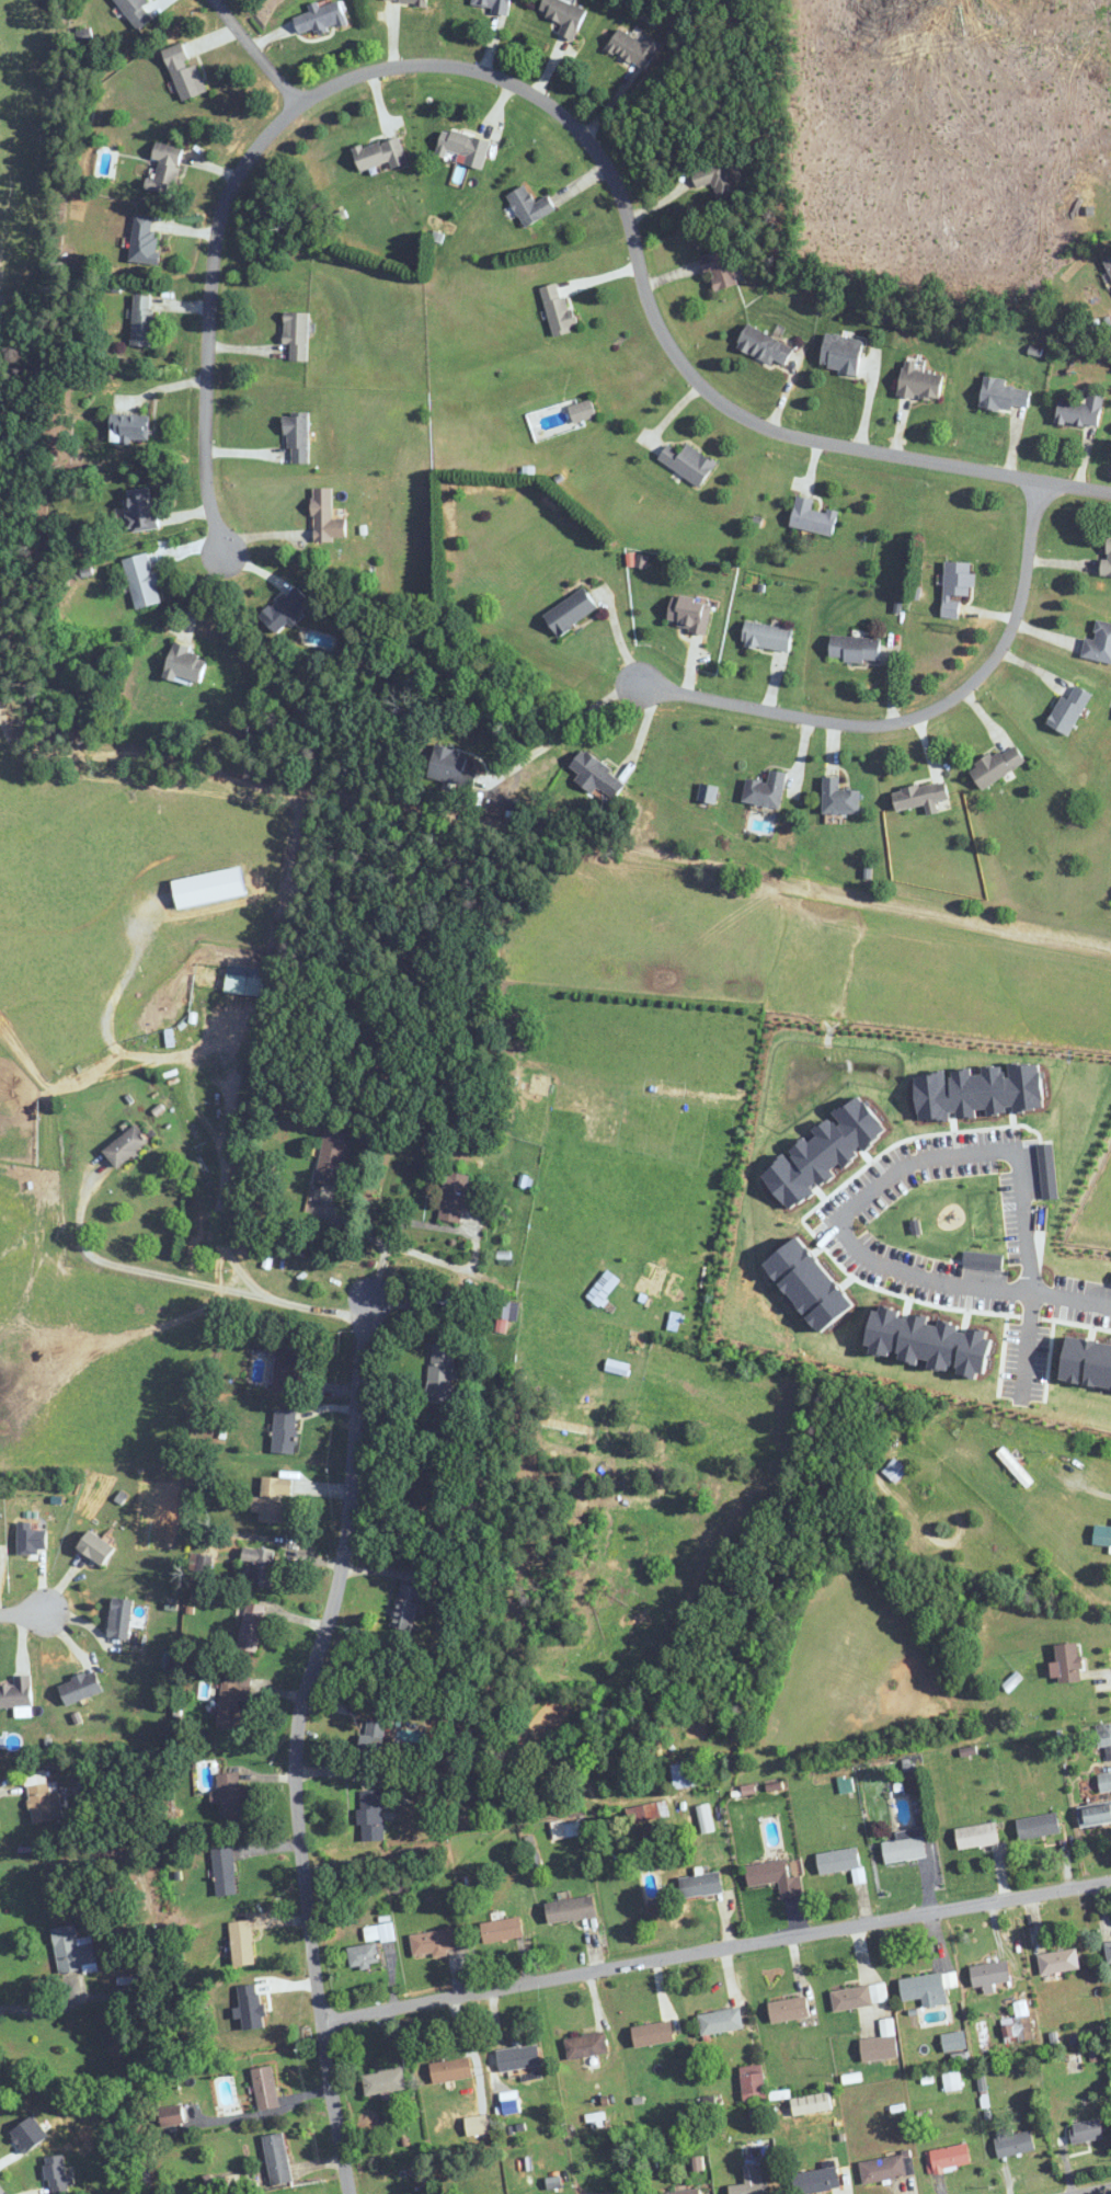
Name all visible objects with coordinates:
building: (405, 1)
building: (492, 4)
building: (137, 12)
building: (564, 15)
building: (320, 18)
building: (634, 48)
road: (256, 53)
building: (184, 72)
road: (551, 107)
building: (462, 147)
building: (381, 153)
building: (165, 167)
building: (715, 179)
building: (530, 205)
building: (144, 241)
building: (1109, 263)
building: (719, 271)
building: (558, 309)
building: (144, 320)
building: (297, 334)
building: (765, 346)
building: (841, 353)
building: (920, 382)
building: (1004, 393)
building: (583, 411)
building: (1080, 411)
building: (130, 426)
building: (297, 437)
building: (688, 462)
building: (140, 511)
building: (325, 517)
building: (812, 517)
building: (1107, 558)
building: (142, 581)
building: (955, 586)
building: (285, 609)
building: (571, 612)
building: (690, 613)
building: (767, 636)
building: (1099, 643)
building: (855, 649)
building: (185, 664)
building: (1069, 708)
road: (916, 716)
road: (569, 724)
building: (998, 766)
building: (451, 767)
building: (596, 775)
building: (766, 790)
building: (708, 793)
building: (921, 797)
building: (839, 798)
building: (243, 985)
building: (126, 1146)
building: (332, 1157)
road: (884, 1177)
road: (221, 1185)
building: (454, 1197)
road: (394, 1227)
building: (985, 1259)
road: (190, 1280)
building: (817, 1283)
road: (1070, 1298)
building: (930, 1339)
road: (1026, 1346)
building: (1090, 1360)
building: (286, 1361)
building: (617, 1367)
building: (440, 1372)
building: (284, 1431)
building: (1015, 1466)
building: (894, 1470)
road: (1095, 1484)
building: (273, 1498)
building: (1102, 1535)
building: (95, 1546)
building: (261, 1565)
building: (405, 1607)
road: (23, 1612)
building: (119, 1616)
building: (251, 1627)
building: (1066, 1664)
building: (80, 1687)
building: (16, 1692)
building: (233, 1705)
building: (1103, 1735)
building: (373, 1736)
road: (298, 1742)
building: (684, 1774)
building: (1104, 1782)
building: (228, 1785)
building: (43, 1797)
building: (643, 1813)
building: (1095, 1814)
building: (370, 1815)
building: (703, 1818)
building: (1038, 1826)
building: (977, 1836)
building: (905, 1847)
building: (838, 1861)
building: (225, 1871)
building: (775, 1876)
building: (701, 1884)
building: (571, 1909)
building: (502, 1930)
building: (242, 1943)
building: (433, 1943)
building: (368, 1946)
building: (71, 1949)
road: (715, 1951)
building: (1108, 1951)
building: (1058, 1961)
building: (990, 1974)
building: (925, 1989)
building: (851, 1998)
building: (789, 2009)
road: (44, 2013)
building: (720, 2021)
building: (653, 2034)
building: (954, 2041)
building: (881, 2044)
building: (586, 2045)
building: (518, 2058)
building: (451, 2070)
building: (951, 2081)
building: (383, 2082)
building: (753, 2082)
building: (265, 2088)
building: (811, 2104)
building: (171, 2116)
building: (478, 2125)
building: (1086, 2132)
building: (1013, 2142)
building: (277, 2159)
building: (948, 2159)
building: (885, 2168)
building: (752, 2181)
building: (817, 2181)
road: (1098, 2191)
building: (687, 2192)

